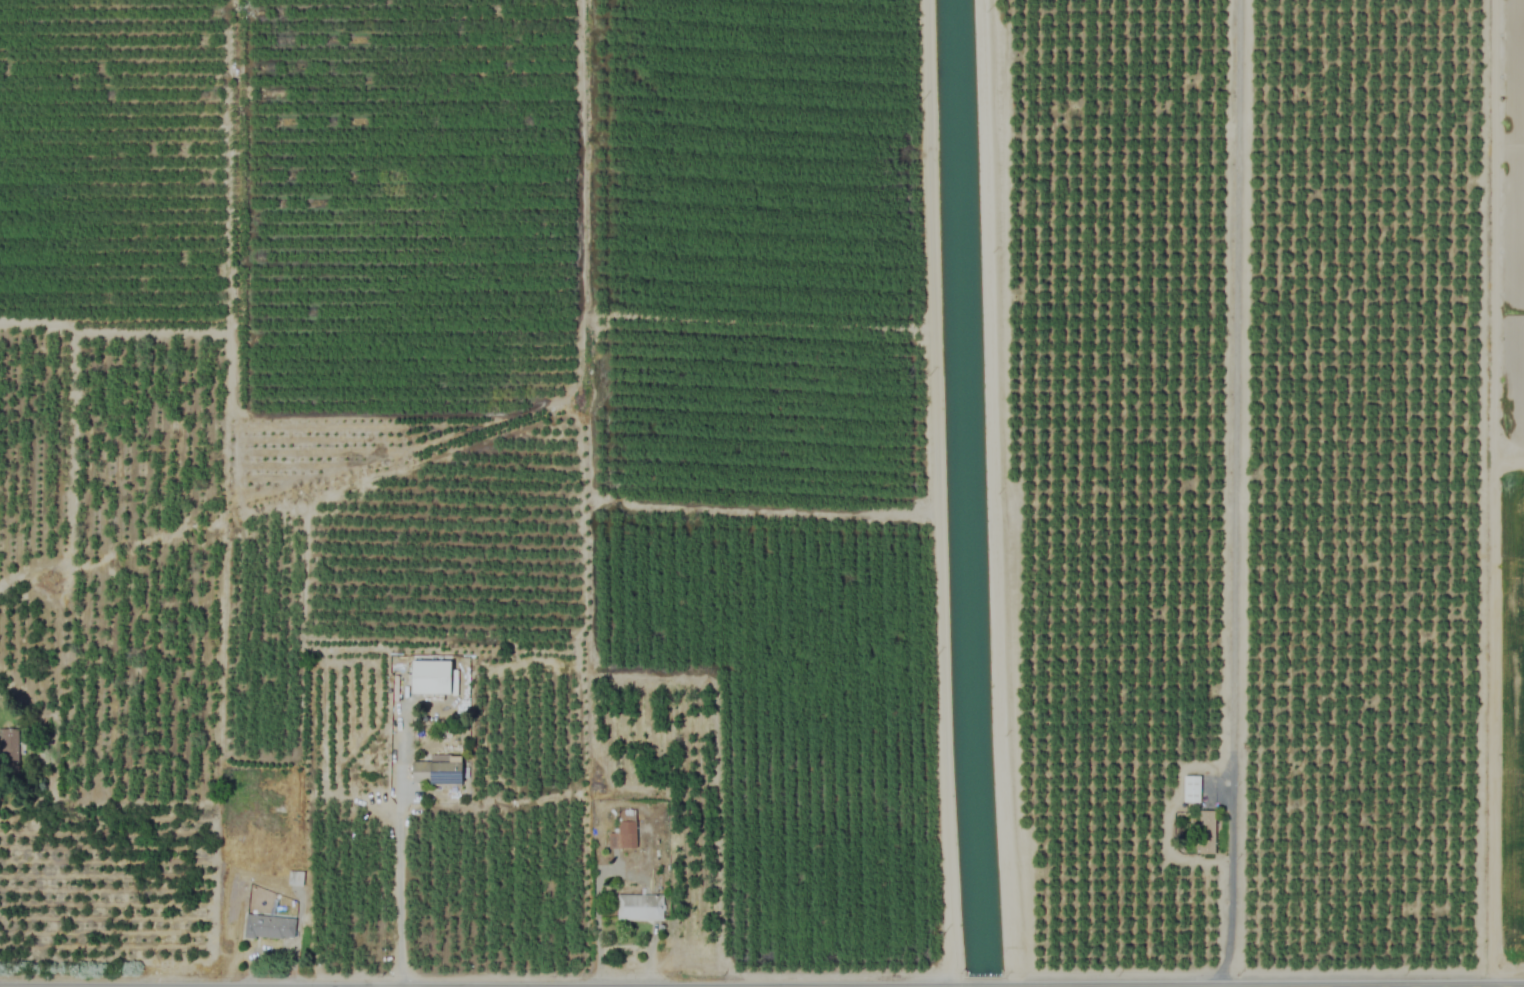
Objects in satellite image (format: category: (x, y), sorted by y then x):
building: (424, 684)
building: (8, 752)
building: (439, 772)
building: (1192, 789)
building: (625, 831)
building: (1207, 833)
building: (294, 878)
road: (396, 882)
road: (1229, 889)
building: (639, 907)
building: (271, 927)
road: (1264, 982)
road: (984, 984)
road: (916, 986)

